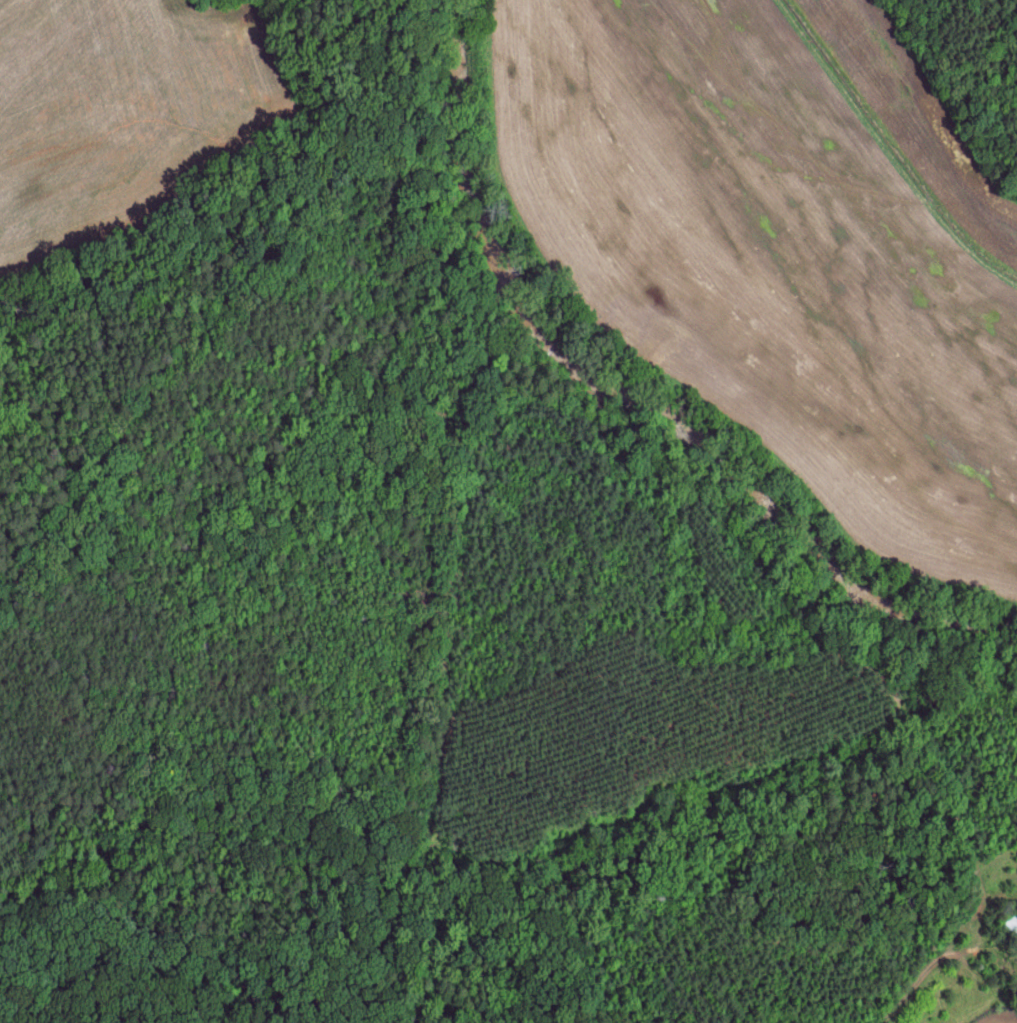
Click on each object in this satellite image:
road: (799, 965)

